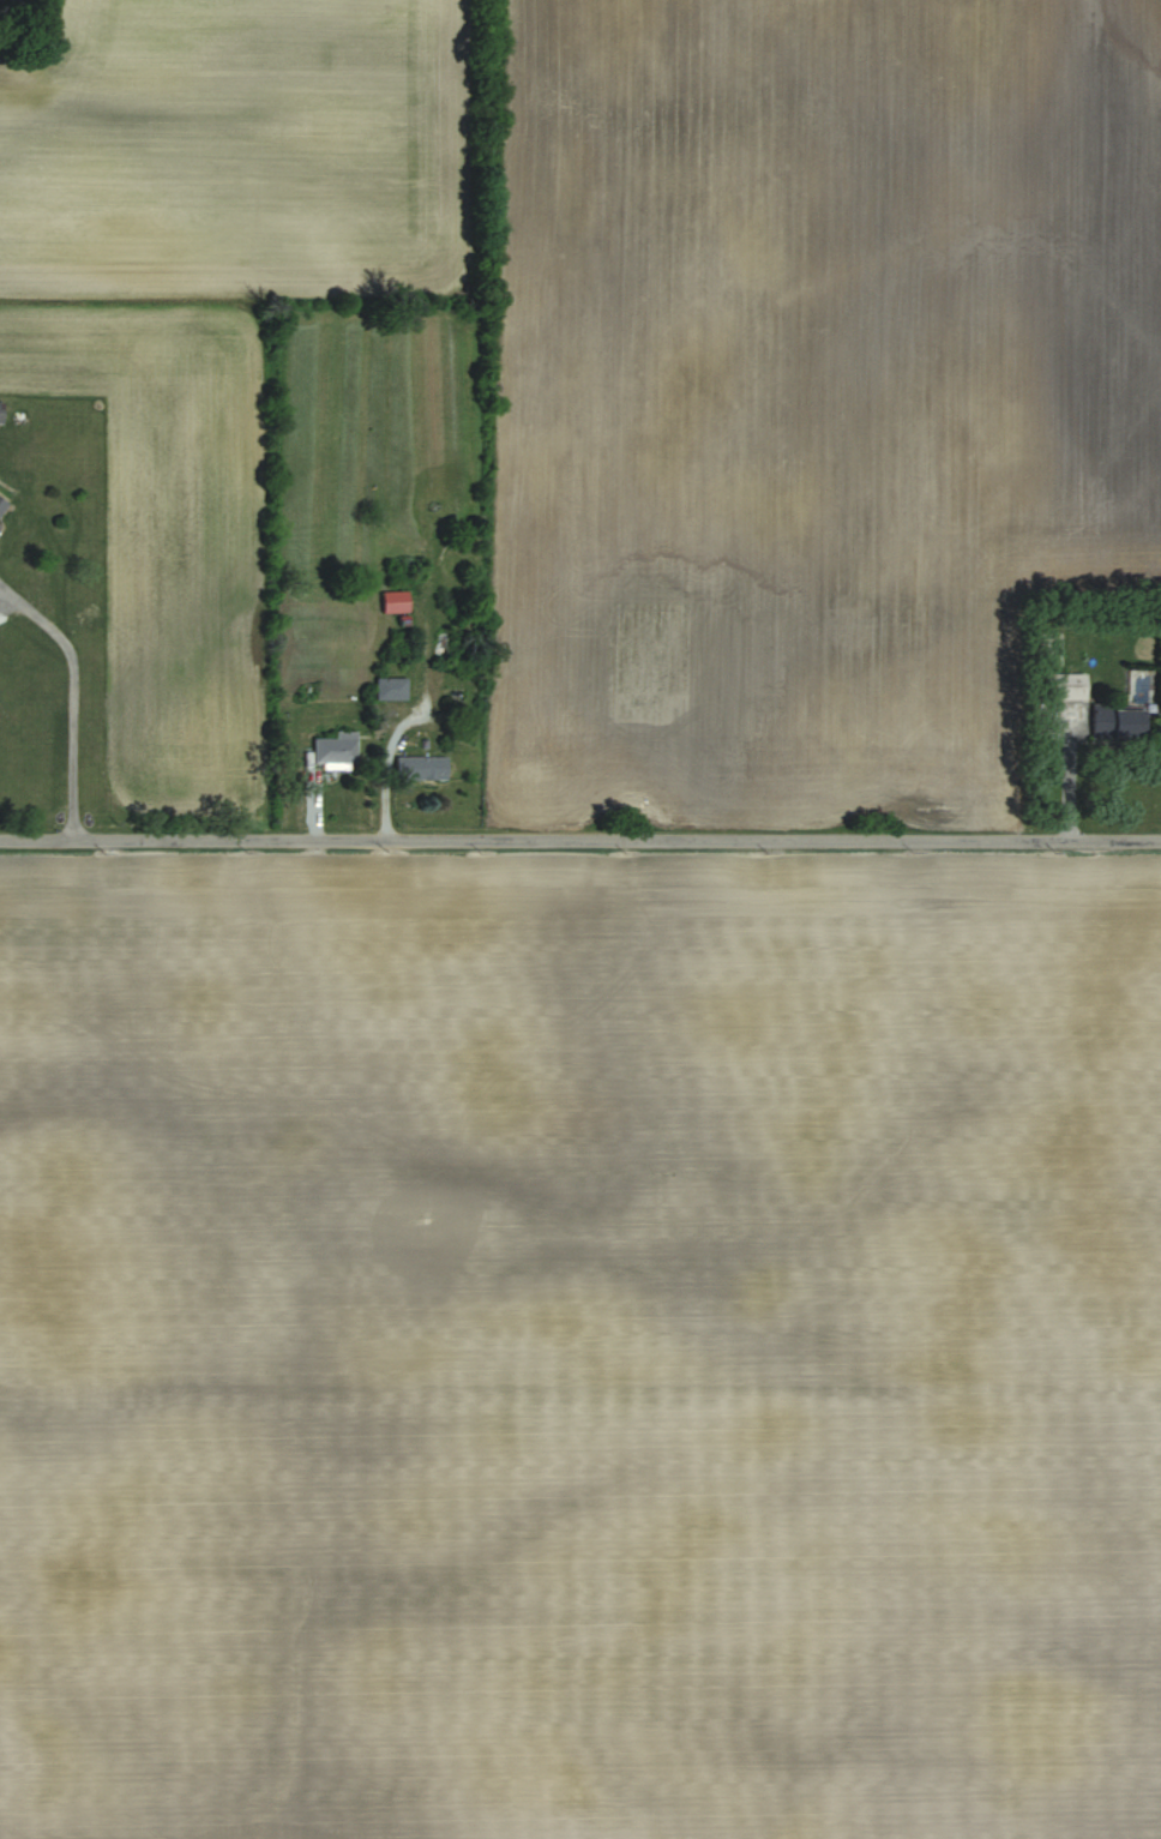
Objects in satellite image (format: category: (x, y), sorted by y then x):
building: (2, 506)
building: (395, 601)
building: (1061, 686)
building: (391, 689)
road: (72, 699)
road: (405, 720)
building: (1114, 722)
building: (336, 747)
building: (422, 768)
road: (580, 841)

